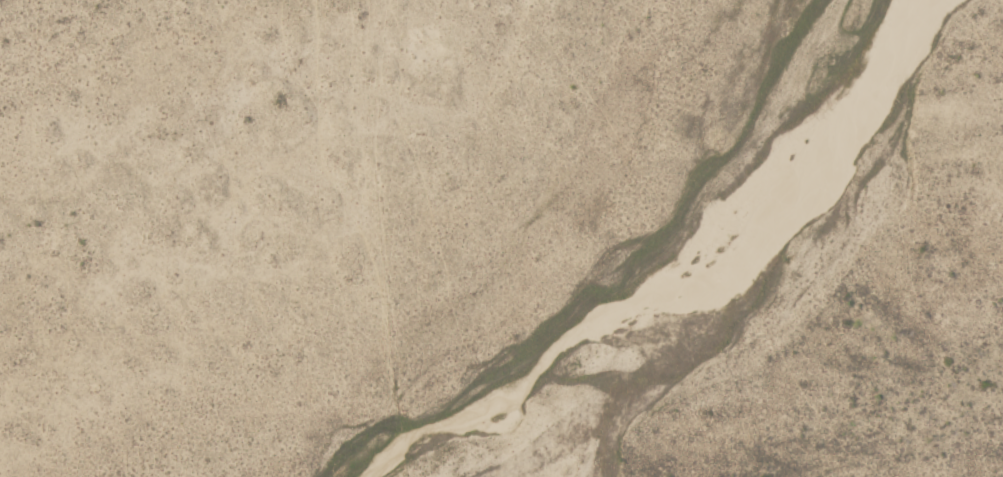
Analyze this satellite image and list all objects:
river: (670, 276)

